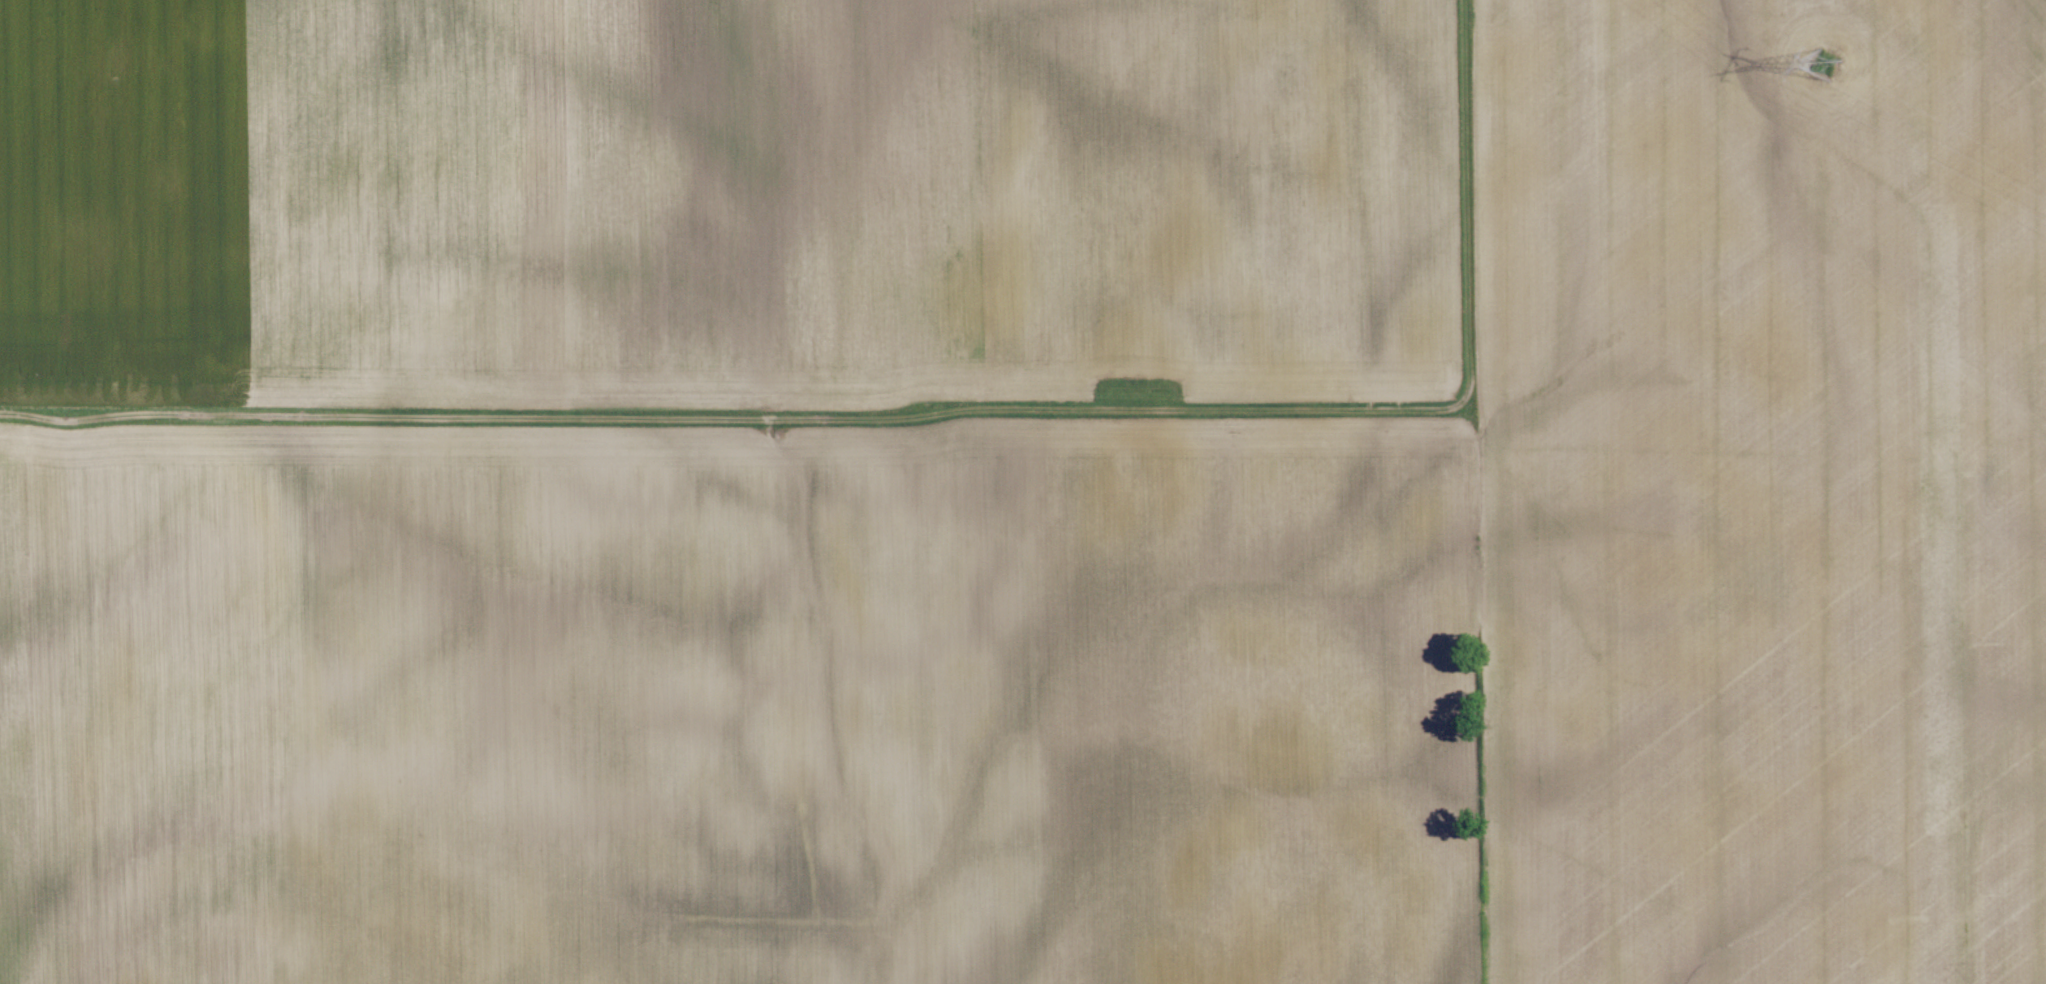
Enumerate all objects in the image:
power tower: (1826, 64)
road: (929, 413)

